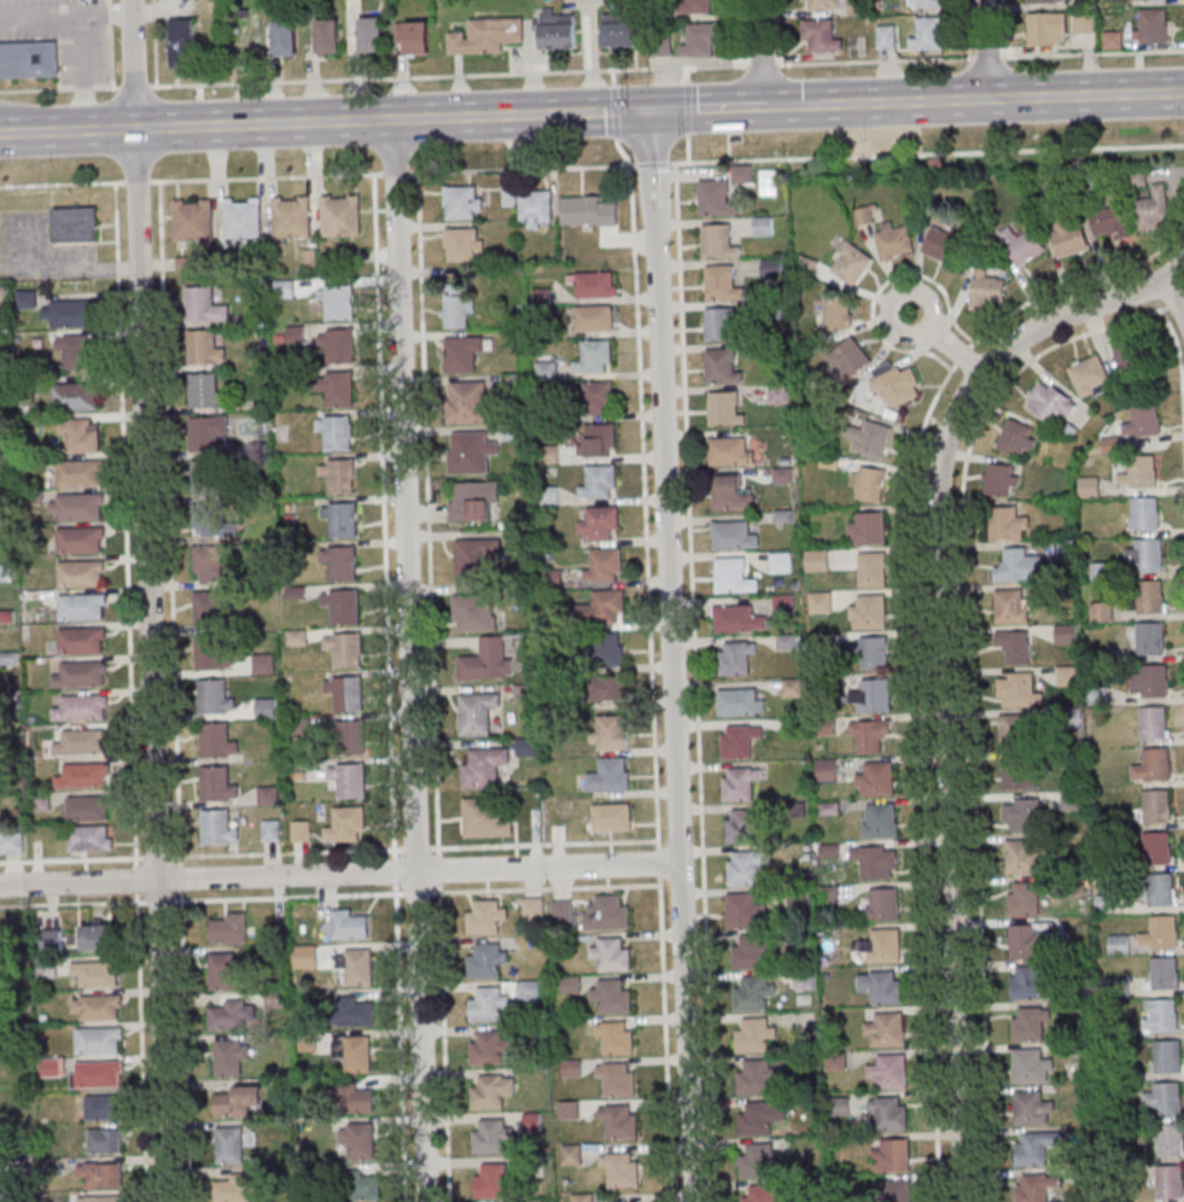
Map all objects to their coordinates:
building: (1141, 0)
building: (1044, 1)
building: (1084, 2)
building: (822, 4)
building: (928, 4)
building: (857, 6)
building: (695, 7)
road: (64, 14)
building: (1087, 24)
building: (1154, 25)
building: (623, 30)
building: (1048, 30)
building: (558, 31)
building: (372, 34)
building: (486, 35)
building: (928, 35)
building: (328, 36)
building: (414, 36)
building: (818, 36)
building: (887, 37)
building: (285, 39)
building: (699, 41)
building: (182, 42)
road: (109, 43)
road: (152, 43)
road: (985, 48)
road: (762, 52)
building: (28, 59)
road: (591, 71)
road: (78, 72)
road: (1085, 95)
road: (904, 101)
road: (792, 105)
road: (706, 107)
traffic signals: (649, 111)
road: (520, 115)
road: (262, 124)
road: (66, 132)
road: (926, 153)
road: (652, 163)
road: (612, 165)
road: (498, 169)
building: (742, 175)
road: (266, 177)
road: (136, 182)
road: (62, 183)
building: (715, 200)
building: (462, 204)
building: (536, 209)
building: (590, 210)
building: (1154, 211)
building: (340, 217)
building: (291, 218)
building: (241, 220)
building: (192, 221)
building: (75, 223)
building: (1108, 223)
building: (762, 227)
building: (1071, 238)
building: (894, 240)
building: (717, 243)
building: (465, 244)
building: (941, 244)
building: (1023, 246)
building: (852, 264)
building: (771, 268)
road: (56, 269)
building: (594, 284)
building: (721, 284)
building: (987, 290)
road: (917, 291)
building: (2, 296)
road: (1174, 296)
building: (28, 299)
building: (336, 302)
building: (459, 305)
building: (203, 308)
building: (770, 310)
building: (72, 314)
building: (838, 314)
building: (594, 319)
building: (721, 326)
building: (338, 346)
building: (203, 349)
building: (77, 351)
building: (1128, 354)
building: (462, 355)
building: (593, 357)
building: (850, 360)
building: (721, 368)
building: (1090, 374)
building: (898, 387)
road: (1180, 387)
building: (337, 389)
building: (204, 391)
building: (778, 393)
building: (76, 397)
building: (595, 399)
building: (467, 403)
building: (1050, 403)
building: (723, 410)
building: (1143, 421)
building: (334, 433)
building: (82, 434)
building: (209, 436)
building: (1017, 438)
building: (869, 439)
building: (596, 442)
building: (1109, 445)
building: (472, 453)
building: (729, 453)
building: (78, 473)
building: (1139, 473)
building: (782, 475)
building: (339, 477)
building: (208, 479)
building: (1001, 479)
building: (869, 482)
building: (597, 483)
building: (1090, 488)
building: (729, 494)
building: (549, 495)
building: (476, 501)
building: (78, 507)
road: (645, 507)
road: (427, 513)
building: (1144, 515)
building: (782, 518)
building: (211, 519)
building: (340, 520)
road: (126, 524)
building: (597, 524)
building: (1005, 525)
building: (867, 527)
road: (383, 530)
building: (733, 536)
building: (78, 541)
building: (1147, 556)
building: (477, 560)
building: (817, 560)
building: (780, 561)
building: (214, 564)
building: (339, 564)
building: (603, 566)
building: (1019, 566)
building: (870, 571)
building: (78, 574)
building: (734, 577)
building: (1149, 599)
road: (150, 600)
building: (820, 603)
building: (782, 605)
building: (1013, 606)
building: (80, 607)
building: (342, 607)
building: (605, 607)
building: (209, 612)
building: (871, 612)
building: (474, 613)
building: (735, 620)
building: (1066, 635)
road: (914, 638)
building: (80, 641)
building: (1149, 641)
building: (787, 642)
building: (1015, 646)
building: (608, 647)
building: (344, 650)
building: (874, 654)
building: (210, 655)
road: (669, 657)
building: (735, 659)
road: (408, 660)
building: (488, 661)
road: (943, 664)
building: (81, 675)
building: (1068, 677)
road: (695, 682)
building: (1154, 683)
road: (967, 685)
building: (611, 688)
building: (791, 688)
road: (175, 692)
building: (1017, 692)
building: (345, 694)
building: (214, 698)
building: (875, 698)
building: (740, 702)
building: (82, 707)
building: (477, 712)
building: (1151, 724)
building: (823, 727)
building: (611, 731)
building: (1014, 733)
building: (870, 735)
building: (348, 737)
building: (82, 742)
building: (216, 742)
building: (737, 743)
building: (527, 747)
building: (1154, 766)
building: (484, 768)
building: (823, 769)
building: (877, 775)
building: (1020, 775)
building: (610, 776)
building: (82, 777)
building: (348, 781)
building: (216, 786)
building: (737, 786)
building: (269, 795)
building: (40, 801)
building: (1154, 809)
building: (87, 810)
building: (616, 817)
building: (1023, 817)
building: (486, 818)
building: (880, 819)
building: (346, 825)
building: (741, 825)
building: (218, 829)
building: (272, 830)
building: (302, 832)
building: (88, 840)
building: (11, 841)
road: (541, 845)
building: (1156, 850)
road: (298, 853)
road: (158, 857)
building: (1025, 858)
road: (72, 859)
building: (873, 859)
road: (657, 863)
building: (743, 867)
road: (338, 874)
road: (136, 879)
road: (542, 888)
building: (1160, 892)
road: (286, 897)
building: (1022, 900)
road: (72, 904)
building: (883, 904)
building: (530, 906)
building: (560, 909)
building: (742, 911)
building: (603, 912)
building: (482, 916)
building: (346, 923)
building: (231, 928)
building: (1163, 933)
building: (98, 938)
building: (51, 940)
building: (1027, 941)
building: (1120, 944)
building: (882, 946)
building: (751, 952)
building: (611, 955)
building: (484, 961)
building: (358, 968)
building: (227, 971)
building: (97, 974)
building: (1163, 975)
building: (570, 984)
building: (1026, 984)
building: (880, 986)
building: (525, 990)
building: (751, 992)
building: (608, 996)
building: (485, 1003)
building: (97, 1006)
building: (351, 1010)
building: (233, 1017)
building: (1162, 1017)
building: (1030, 1025)
building: (883, 1027)
road: (443, 1028)
building: (752, 1034)
building: (614, 1037)
building: (95, 1038)
road: (665, 1039)
road: (398, 1044)
road: (142, 1046)
building: (486, 1048)
building: (355, 1054)
building: (231, 1058)
building: (1167, 1058)
building: (51, 1067)
building: (1028, 1067)
building: (886, 1069)
building: (95, 1072)
building: (754, 1075)
building: (617, 1078)
building: (488, 1091)
building: (358, 1099)
building: (1166, 1099)
building: (237, 1103)
building: (104, 1108)
building: (1030, 1108)
building: (566, 1109)
building: (890, 1113)
building: (756, 1118)
building: (619, 1120)
building: (532, 1122)
building: (489, 1136)
building: (358, 1140)
building: (106, 1142)
building: (1170, 1142)
building: (229, 1146)
building: (1034, 1149)
building: (568, 1154)
building: (891, 1154)
building: (757, 1160)
building: (530, 1166)
building: (619, 1169)
building: (100, 1175)
building: (490, 1180)
building: (351, 1183)
building: (1168, 1183)
building: (232, 1190)
building: (898, 1190)
building: (1031, 1190)
building: (760, 1194)
building: (579, 1196)
building: (101, 1200)

